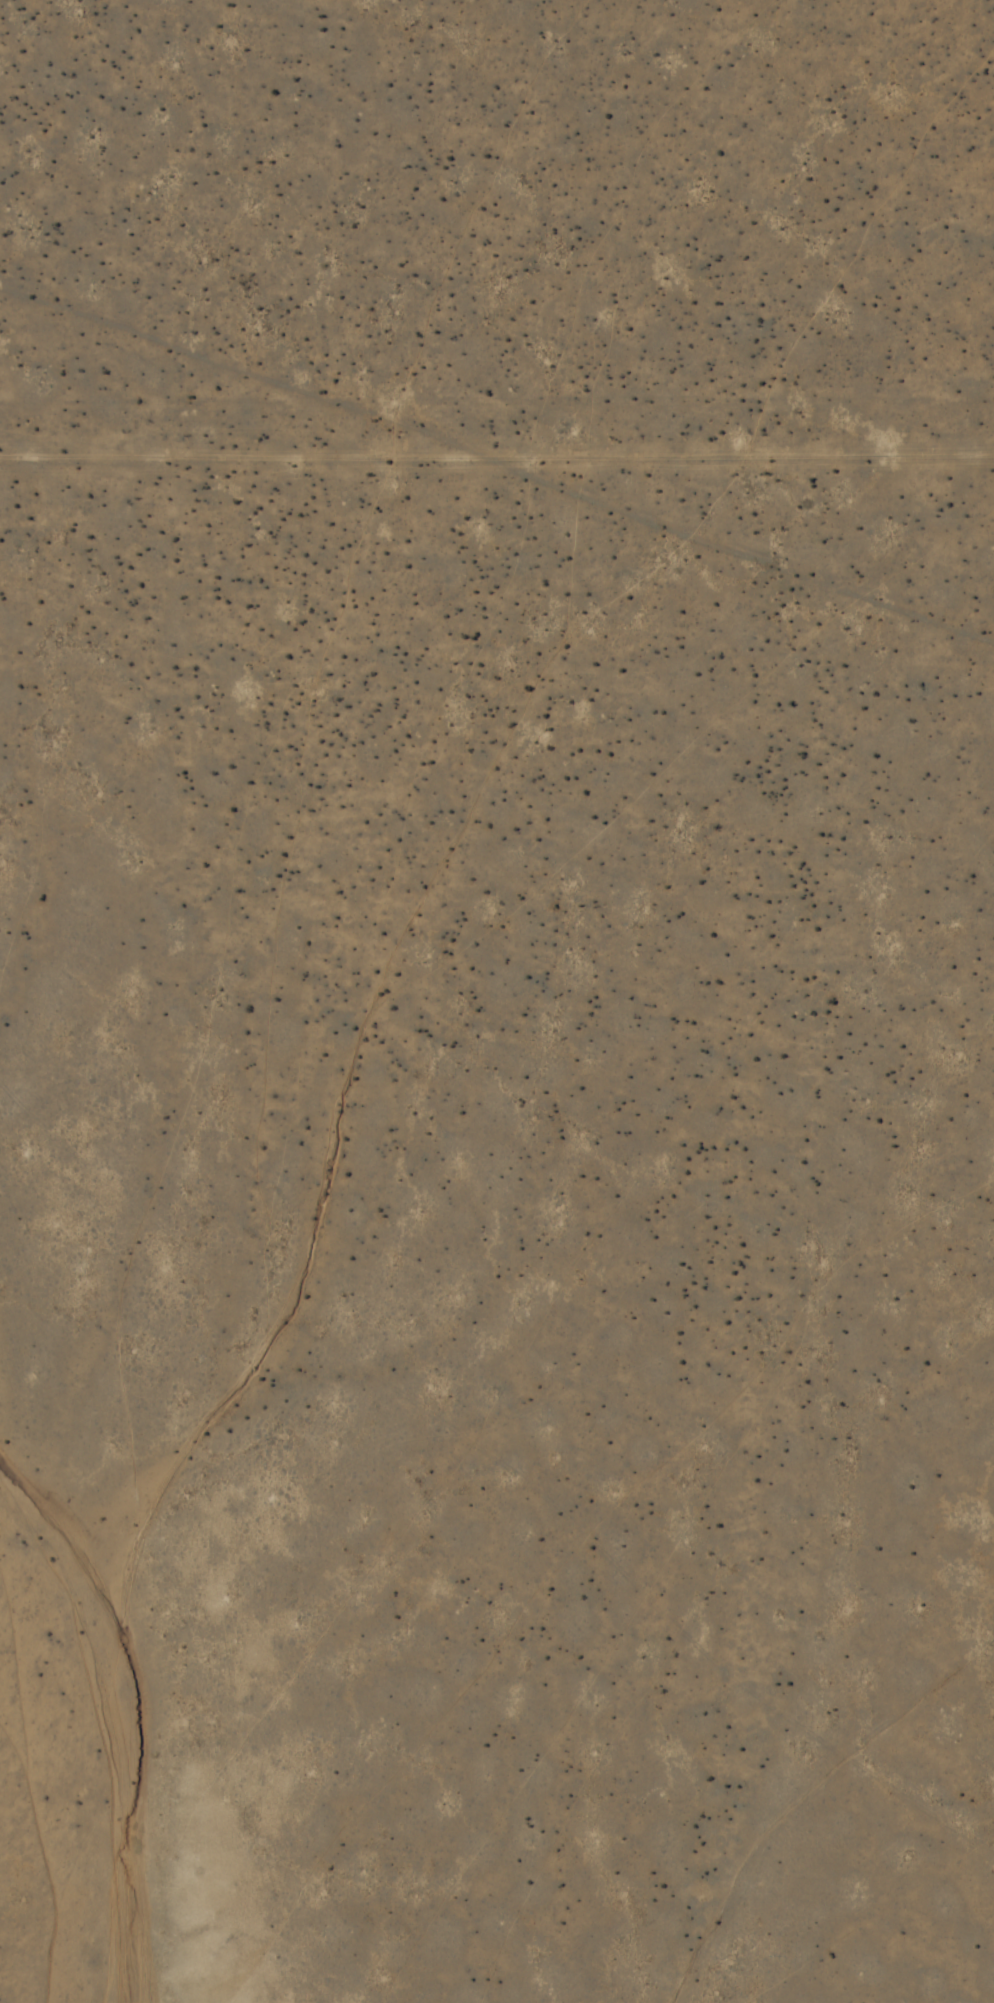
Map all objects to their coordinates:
road: (497, 1279)

